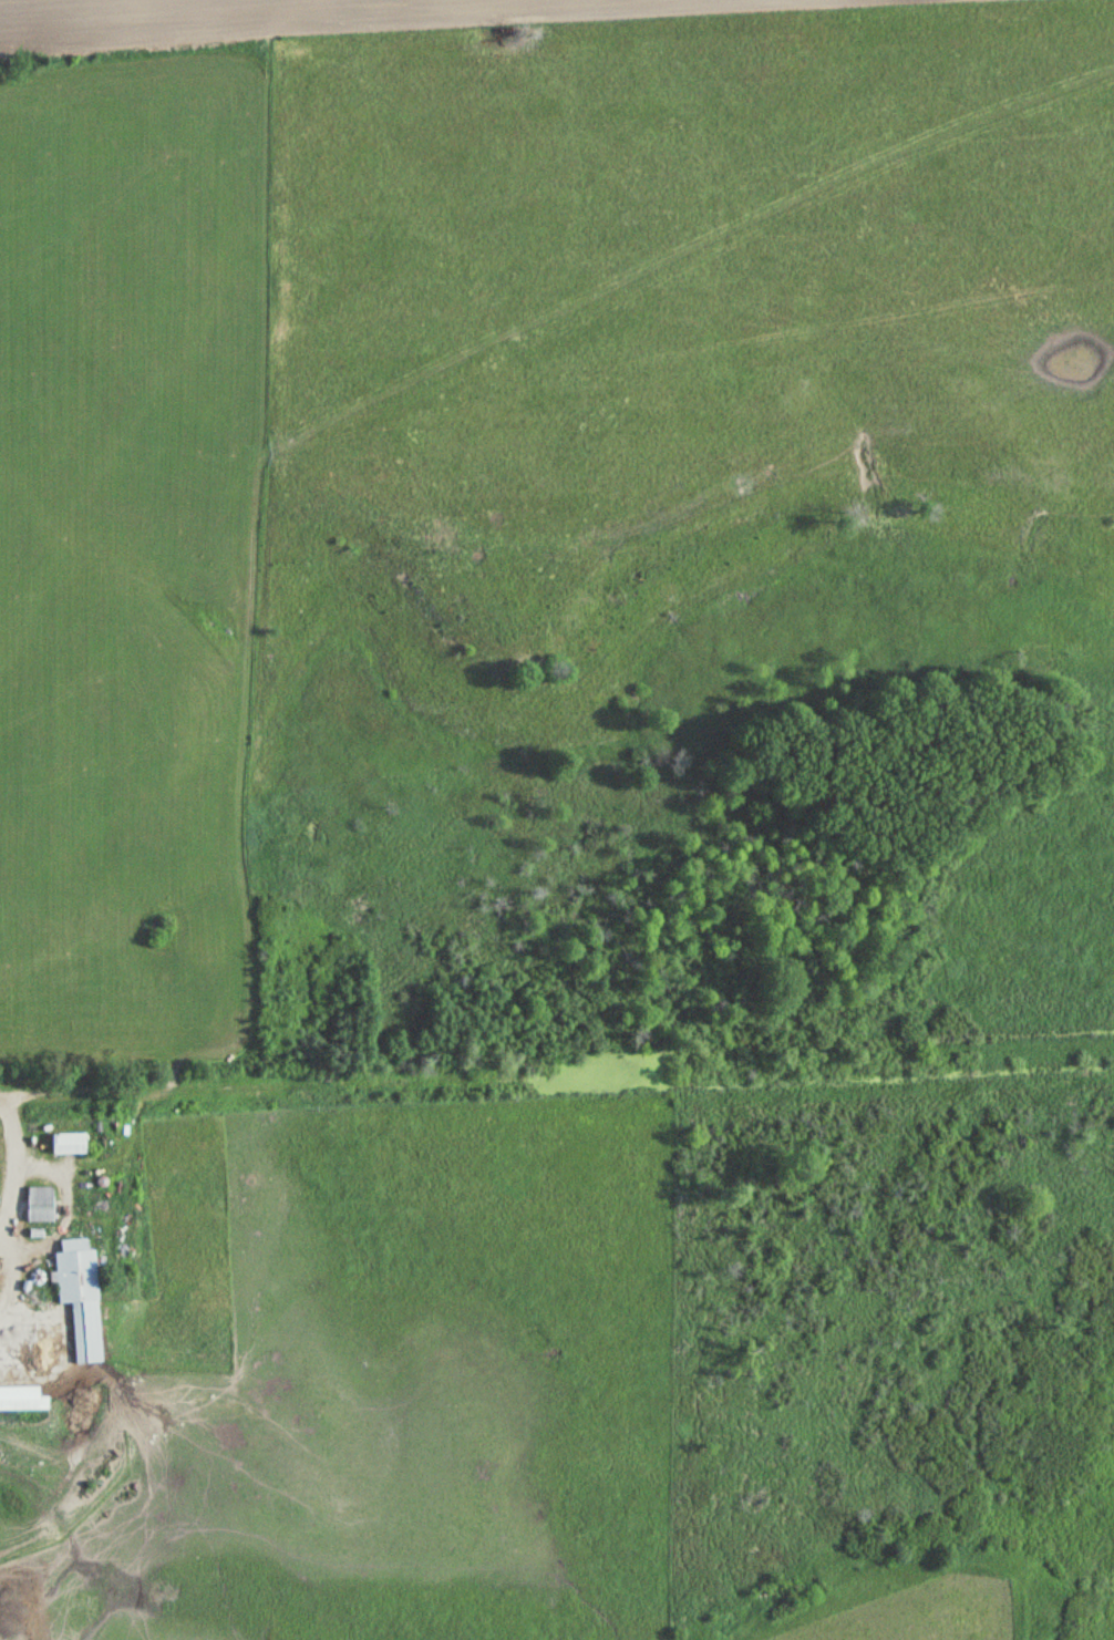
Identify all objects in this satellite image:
building: (64, 1144)
building: (38, 1205)
building: (78, 1297)
building: (19, 1400)

